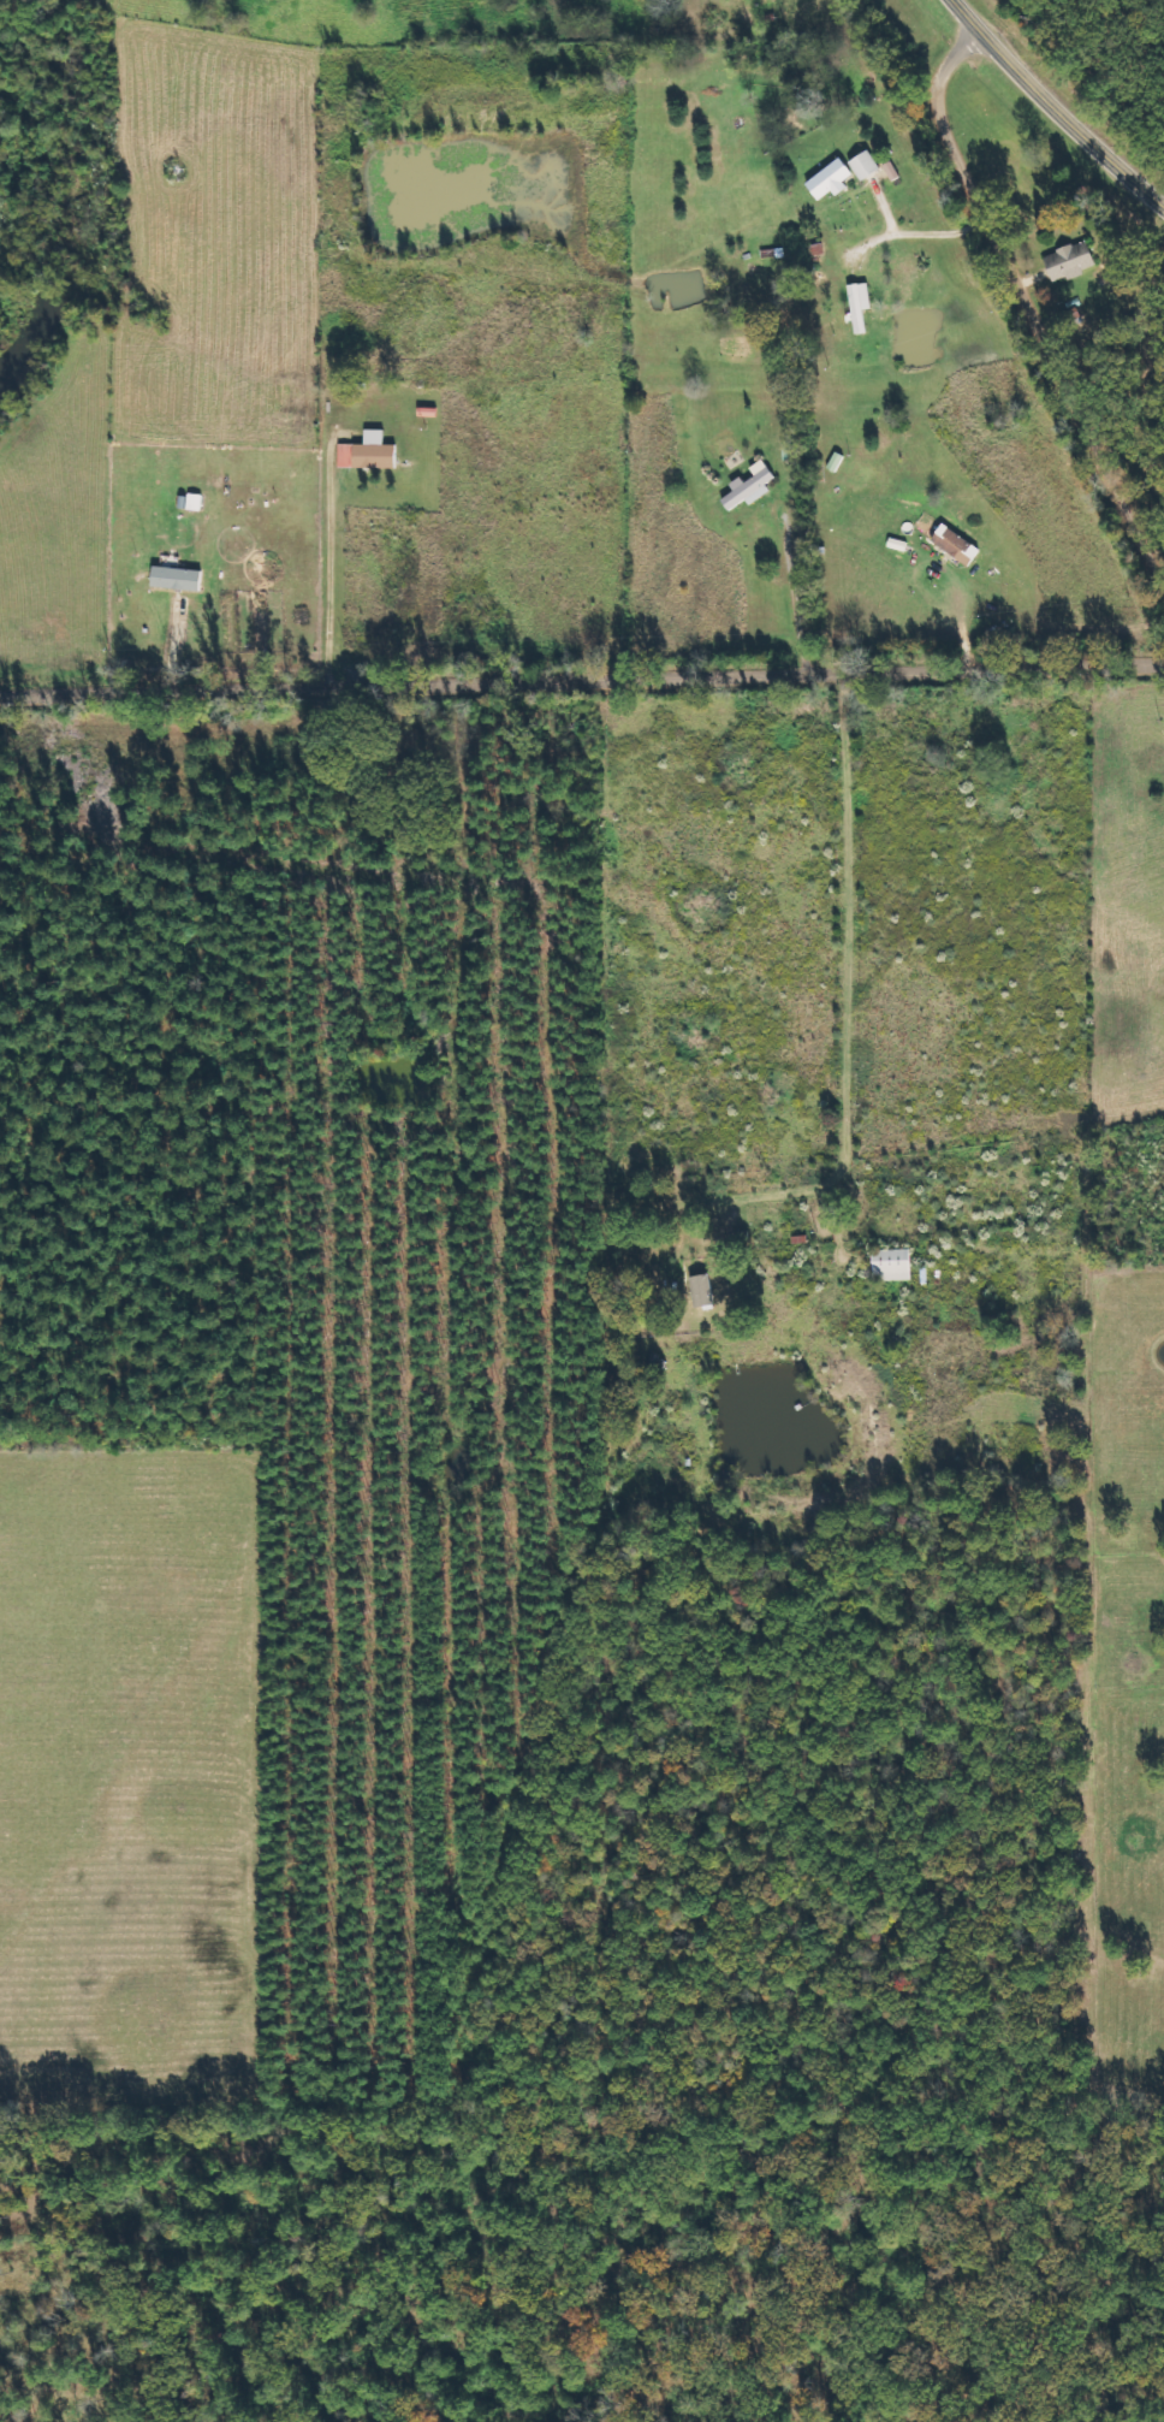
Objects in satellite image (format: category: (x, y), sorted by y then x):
road: (1053, 108)
building: (867, 165)
building: (832, 179)
building: (1071, 260)
road: (1028, 303)
building: (861, 304)
building: (370, 452)
building: (752, 485)
building: (958, 544)
building: (179, 578)
road: (581, 691)
building: (893, 1263)
building: (703, 1290)

